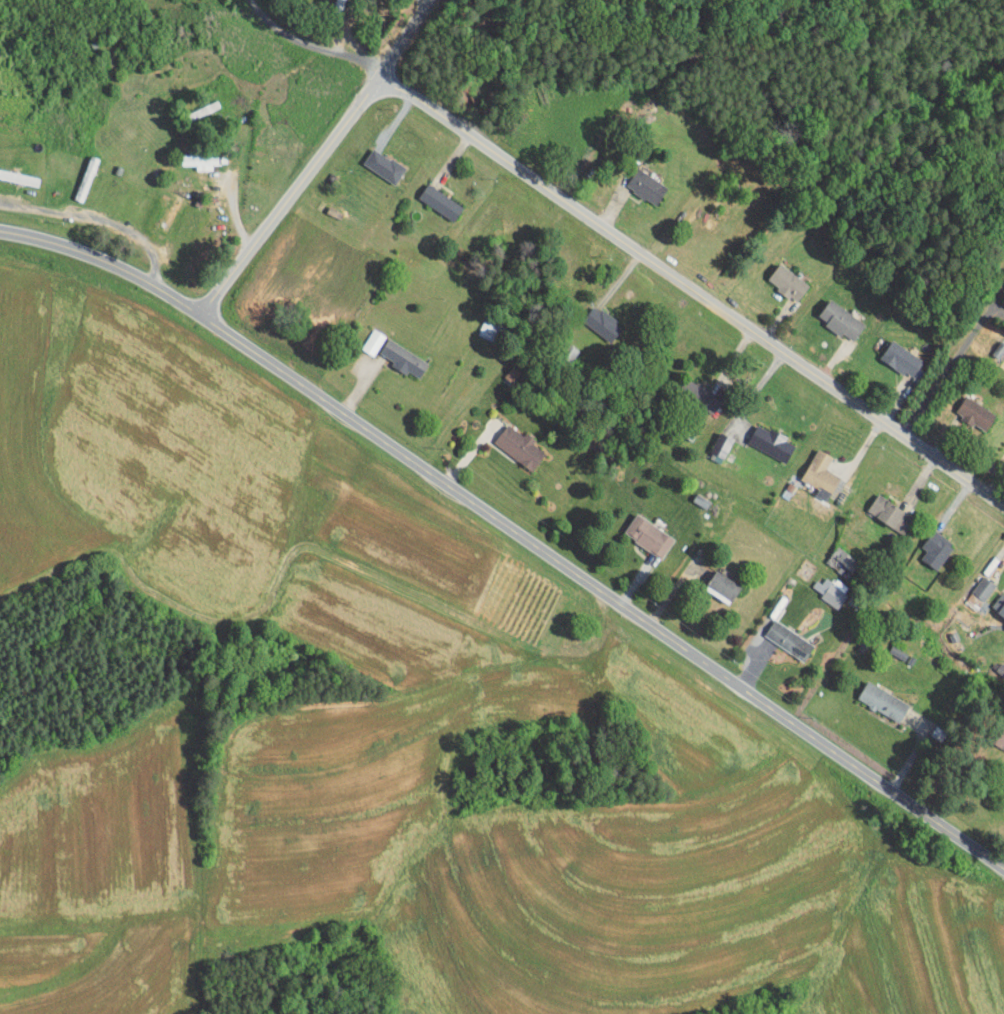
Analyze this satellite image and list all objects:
road: (401, 42)
road: (319, 45)
building: (373, 159)
building: (635, 180)
building: (429, 196)
building: (160, 207)
road: (575, 210)
road: (97, 221)
building: (777, 276)
building: (831, 314)
building: (591, 317)
building: (477, 324)
building: (362, 336)
building: (393, 353)
building: (891, 353)
road: (948, 367)
building: (965, 407)
building: (759, 435)
building: (710, 438)
building: (509, 440)
building: (810, 467)
building: (879, 506)
building: (638, 528)
road: (511, 530)
building: (924, 542)
building: (830, 554)
building: (713, 579)
building: (972, 581)
building: (820, 585)
building: (998, 607)
building: (778, 633)
building: (872, 694)
building: (994, 731)

